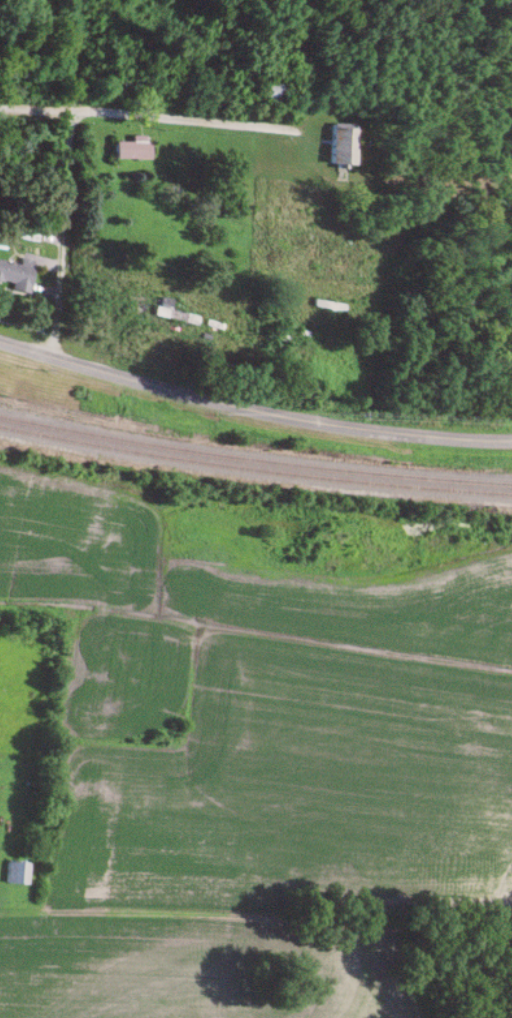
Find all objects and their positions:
road: (298, 38)
building: (128, 83)
building: (272, 92)
road: (175, 122)
building: (341, 144)
building: (132, 150)
road: (65, 178)
building: (16, 275)
building: (327, 306)
building: (171, 313)
road: (252, 412)
railway: (254, 461)
railway: (254, 470)
building: (15, 873)

